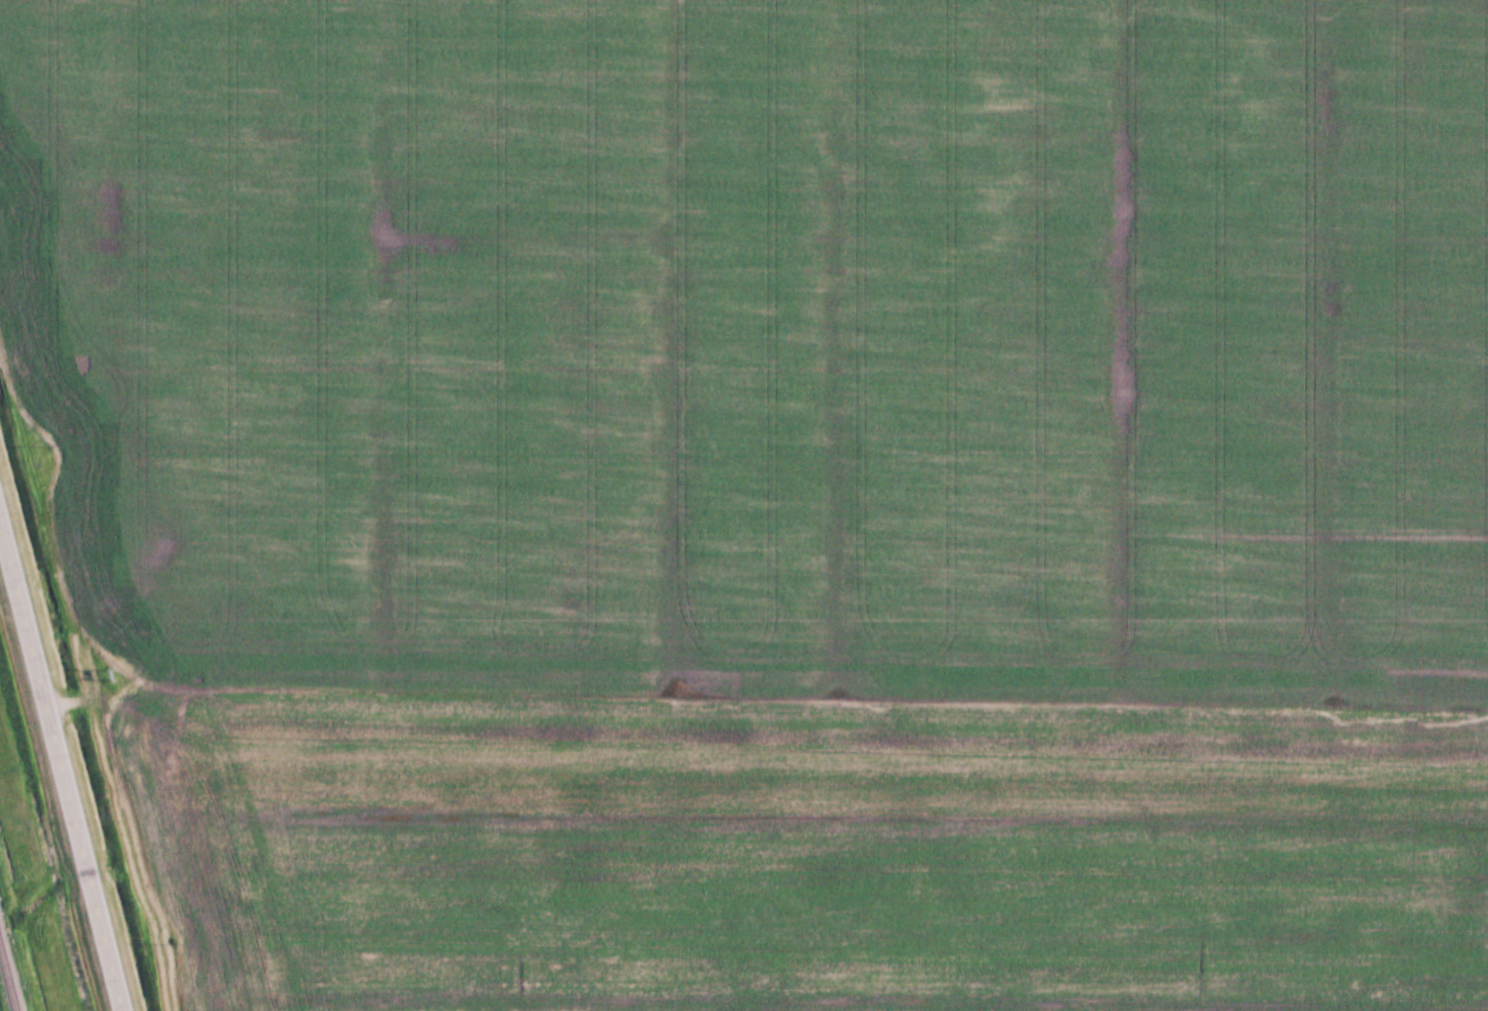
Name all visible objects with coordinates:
road: (60, 762)
railway: (5, 987)

